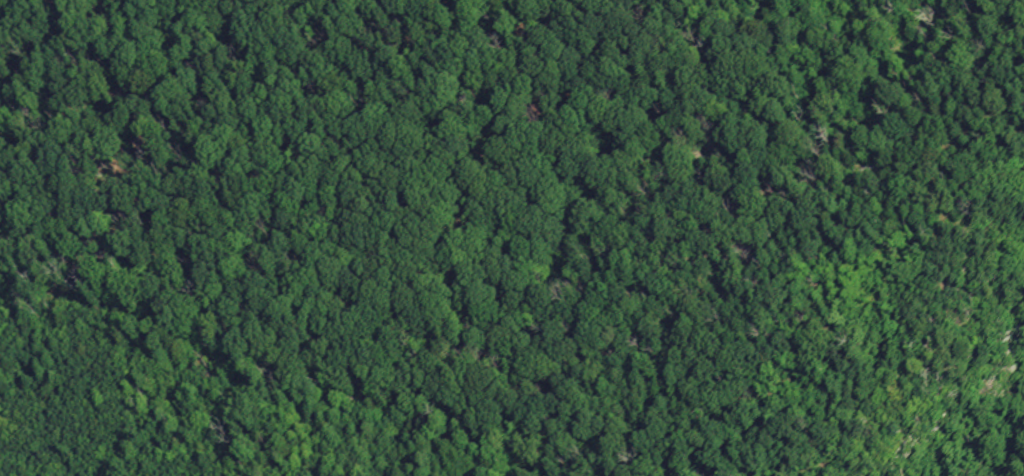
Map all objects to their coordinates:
road: (458, 234)

